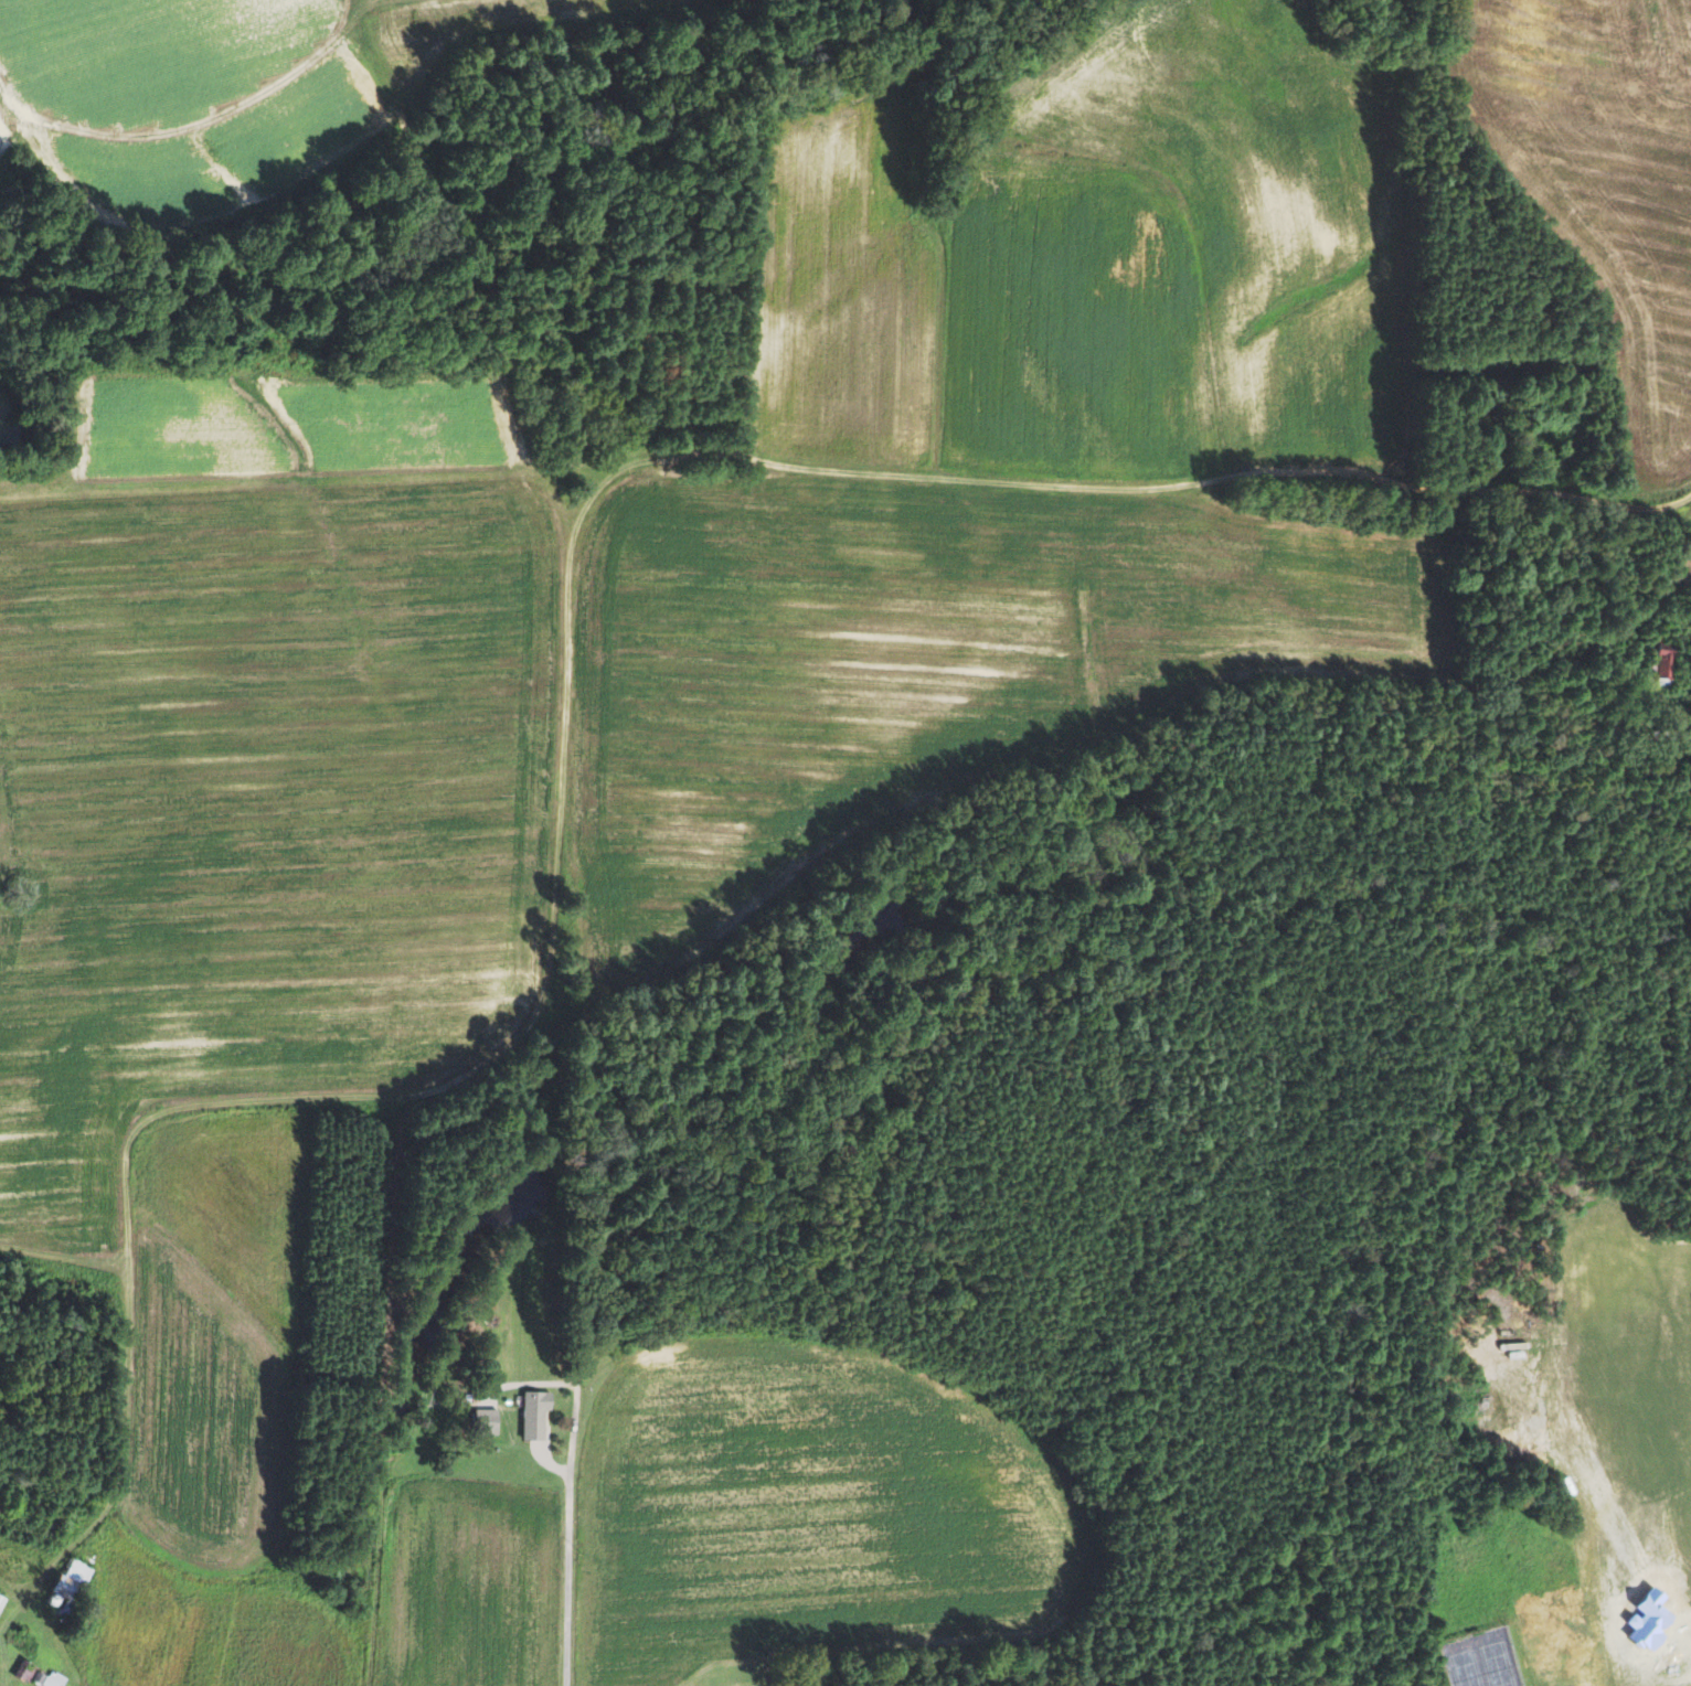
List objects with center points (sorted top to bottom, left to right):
road: (176, 128)
road: (605, 479)
building: (1662, 658)
building: (536, 1413)
building: (489, 1420)
road: (567, 1539)
building: (71, 1584)
building: (2, 1601)
park: (1481, 1660)
building: (28, 1669)
building: (51, 1678)

